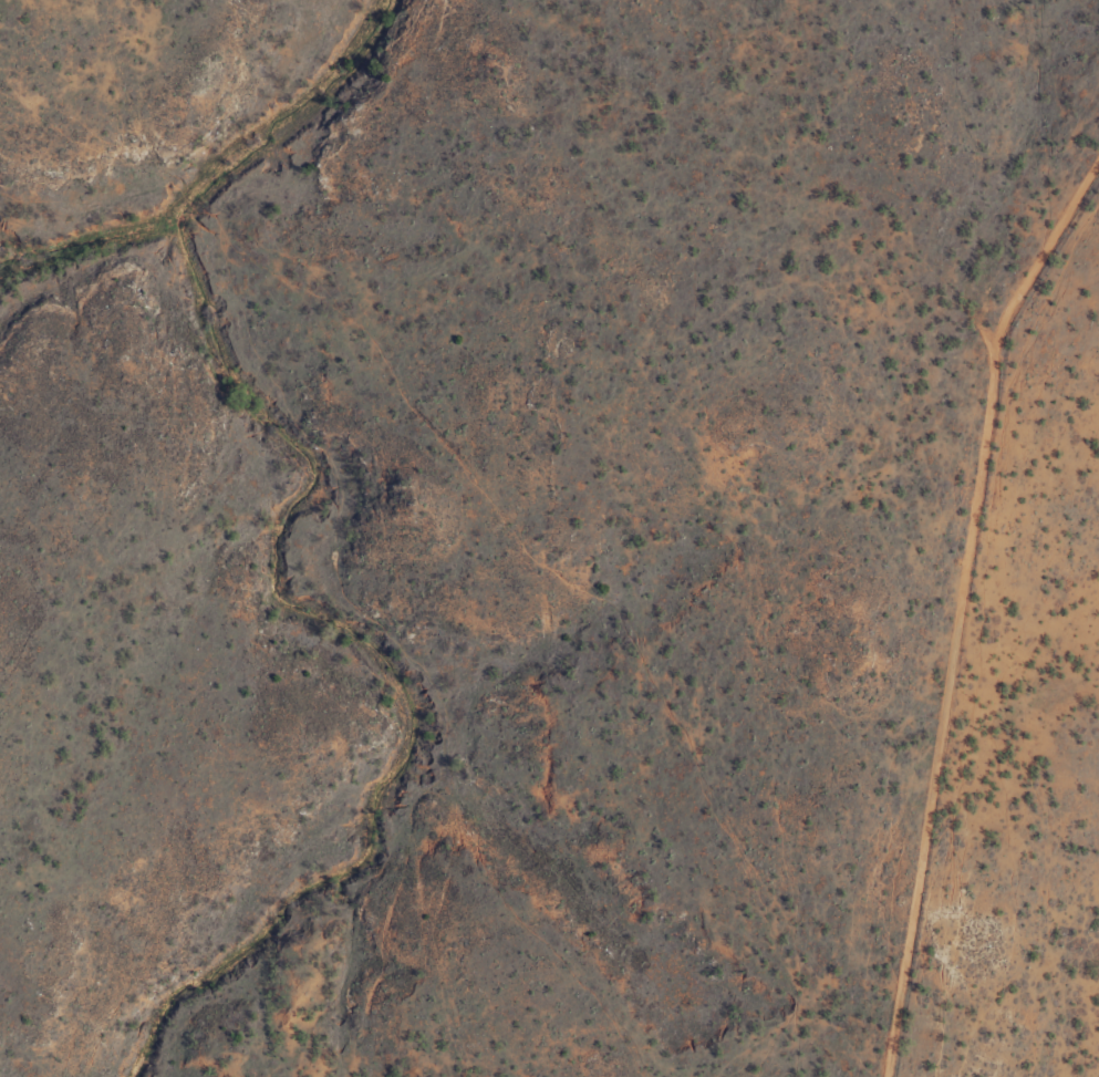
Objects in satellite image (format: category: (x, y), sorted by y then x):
road: (970, 612)

